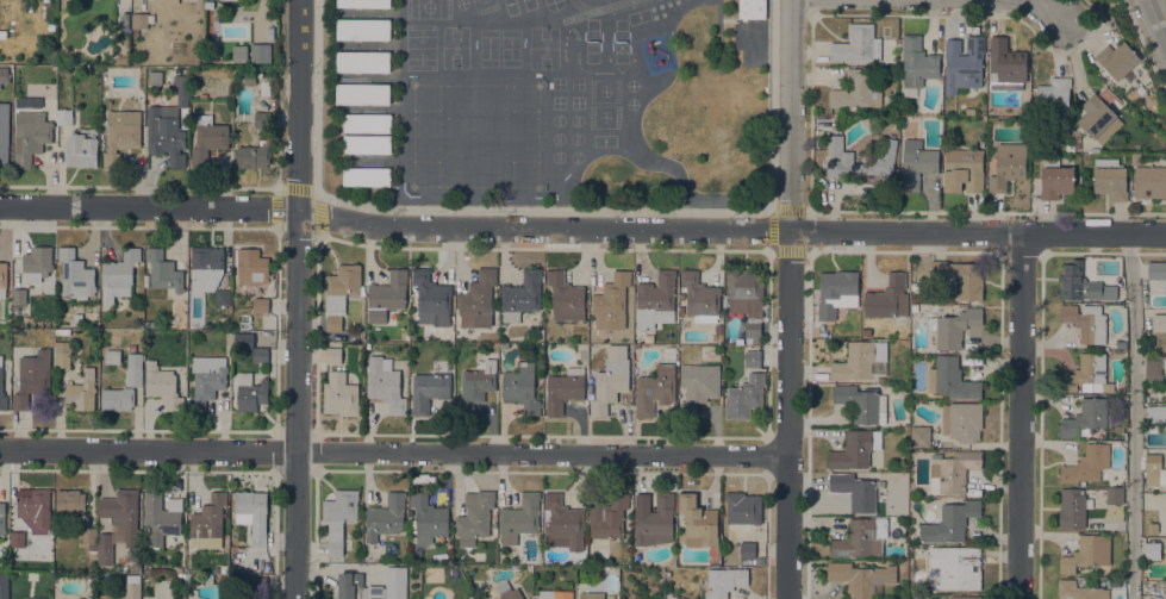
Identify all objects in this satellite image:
building: (224, 0)
building: (170, 1)
building: (363, 4)
road: (1164, 4)
building: (752, 8)
road: (1048, 11)
road: (300, 13)
building: (125, 19)
building: (139, 21)
building: (363, 29)
building: (4, 33)
building: (858, 44)
road: (1143, 49)
building: (239, 51)
building: (261, 52)
building: (1117, 58)
building: (362, 61)
building: (964, 63)
building: (917, 64)
building: (1005, 64)
building: (888, 70)
building: (4, 74)
building: (245, 79)
building: (266, 88)
building: (1109, 89)
building: (855, 91)
building: (362, 93)
building: (1131, 95)
building: (1116, 96)
building: (1053, 98)
building: (64, 116)
building: (1098, 118)
building: (367, 121)
road: (811, 121)
building: (168, 125)
building: (4, 132)
building: (121, 133)
building: (31, 137)
building: (207, 139)
building: (367, 143)
building: (80, 150)
building: (840, 155)
building: (252, 156)
building: (1136, 157)
building: (917, 163)
building: (1008, 166)
building: (964, 170)
building: (367, 176)
building: (1110, 177)
building: (1055, 179)
building: (1149, 181)
road: (192, 187)
road: (278, 187)
road: (299, 192)
road: (316, 193)
road: (549, 210)
road: (581, 229)
road: (278, 230)
road: (298, 232)
building: (37, 264)
building: (206, 267)
building: (252, 267)
building: (163, 270)
building: (75, 275)
building: (118, 275)
building: (1156, 275)
building: (961, 277)
building: (2, 279)
building: (1081, 283)
building: (915, 286)
building: (836, 292)
building: (339, 293)
building: (520, 294)
building: (19, 295)
building: (386, 295)
building: (223, 297)
building: (565, 297)
building: (700, 297)
building: (431, 298)
building: (887, 298)
building: (478, 299)
building: (747, 299)
road: (790, 299)
building: (656, 300)
building: (611, 301)
building: (260, 305)
road: (297, 312)
building: (77, 317)
building: (1086, 322)
building: (1158, 322)
building: (149, 323)
building: (954, 326)
road: (276, 329)
building: (718, 329)
building: (63, 331)
building: (866, 332)
building: (331, 335)
building: (243, 339)
building: (132, 344)
building: (503, 345)
road: (1052, 350)
building: (62, 352)
building: (333, 354)
building: (260, 355)
building: (112, 356)
building: (753, 358)
building: (859, 360)
building: (1154, 368)
building: (135, 369)
building: (1089, 375)
building: (32, 378)
building: (207, 379)
building: (950, 379)
road: (1068, 381)
building: (476, 382)
building: (162, 383)
building: (385, 383)
building: (610, 386)
building: (699, 386)
building: (522, 387)
building: (1, 388)
building: (563, 388)
building: (655, 388)
building: (429, 389)
building: (82, 391)
building: (250, 392)
building: (1165, 392)
building: (339, 394)
building: (744, 397)
building: (117, 398)
building: (862, 403)
building: (1155, 413)
road: (1134, 416)
road: (1018, 417)
building: (1085, 418)
building: (962, 420)
road: (275, 431)
building: (919, 436)
building: (855, 448)
road: (278, 453)
road: (393, 453)
building: (1086, 463)
building: (1154, 469)
road: (199, 470)
building: (953, 470)
road: (275, 473)
building: (855, 491)
building: (1115, 494)
building: (641, 500)
building: (70, 503)
building: (35, 505)
building: (1165, 505)
building: (743, 507)
building: (1073, 507)
building: (123, 512)
building: (252, 513)
building: (208, 516)
building: (385, 516)
building: (474, 516)
building: (607, 516)
building: (161, 517)
building: (339, 517)
building: (2, 518)
building: (428, 518)
building: (519, 518)
building: (893, 519)
building: (655, 522)
building: (697, 522)
building: (950, 522)
building: (563, 523)
building: (1153, 528)
building: (880, 529)
building: (118, 532)
building: (89, 536)
building: (858, 539)
building: (17, 542)
building: (105, 548)
building: (747, 549)
building: (759, 549)
building: (1152, 550)
building: (1087, 553)
building: (956, 566)
building: (135, 568)
building: (862, 578)
building: (208, 579)
building: (724, 581)
building: (261, 582)
building: (395, 582)
building: (4, 586)
building: (357, 587)
building: (132, 589)
building: (507, 591)
building: (1080, 591)
building: (1165, 591)
building: (554, 593)
building: (593, 595)
building: (105, 597)
building: (965, 597)
building: (35, 598)

